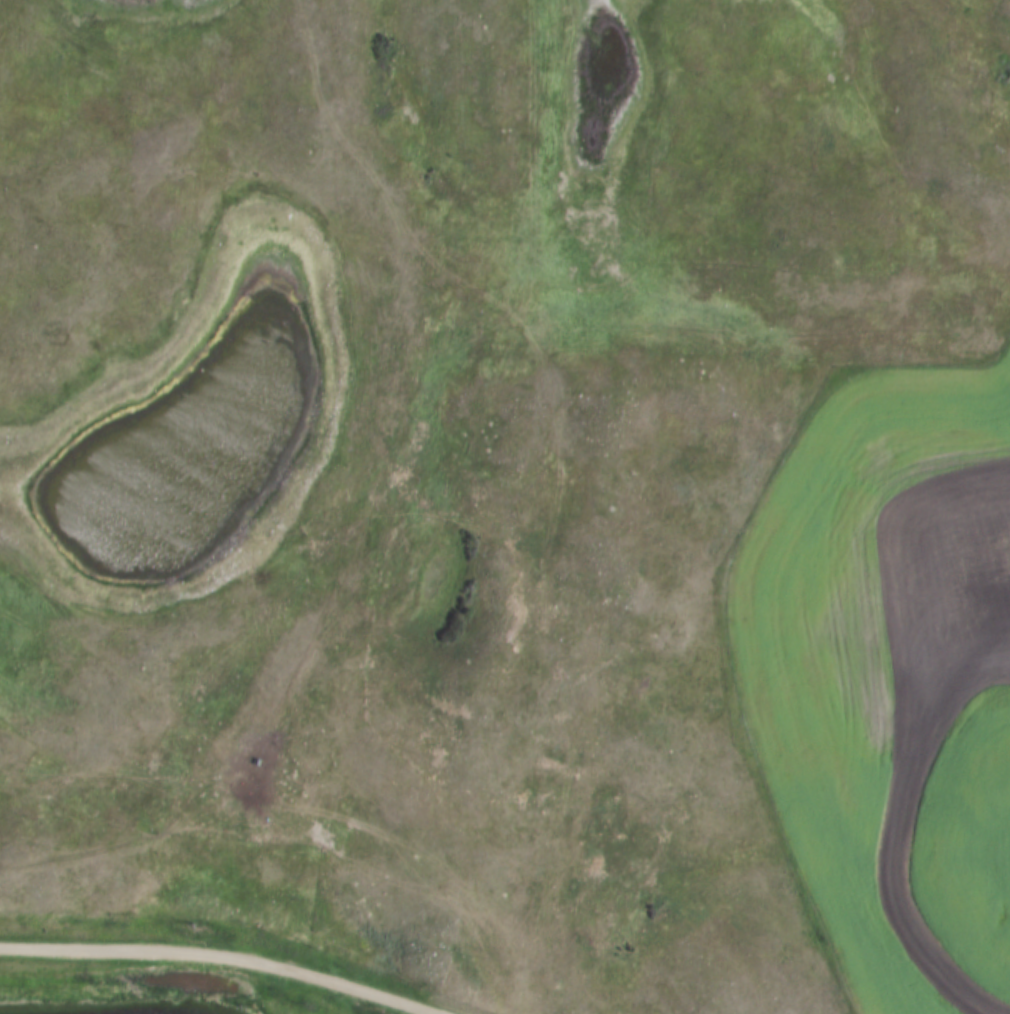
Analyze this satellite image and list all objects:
road: (228, 951)

